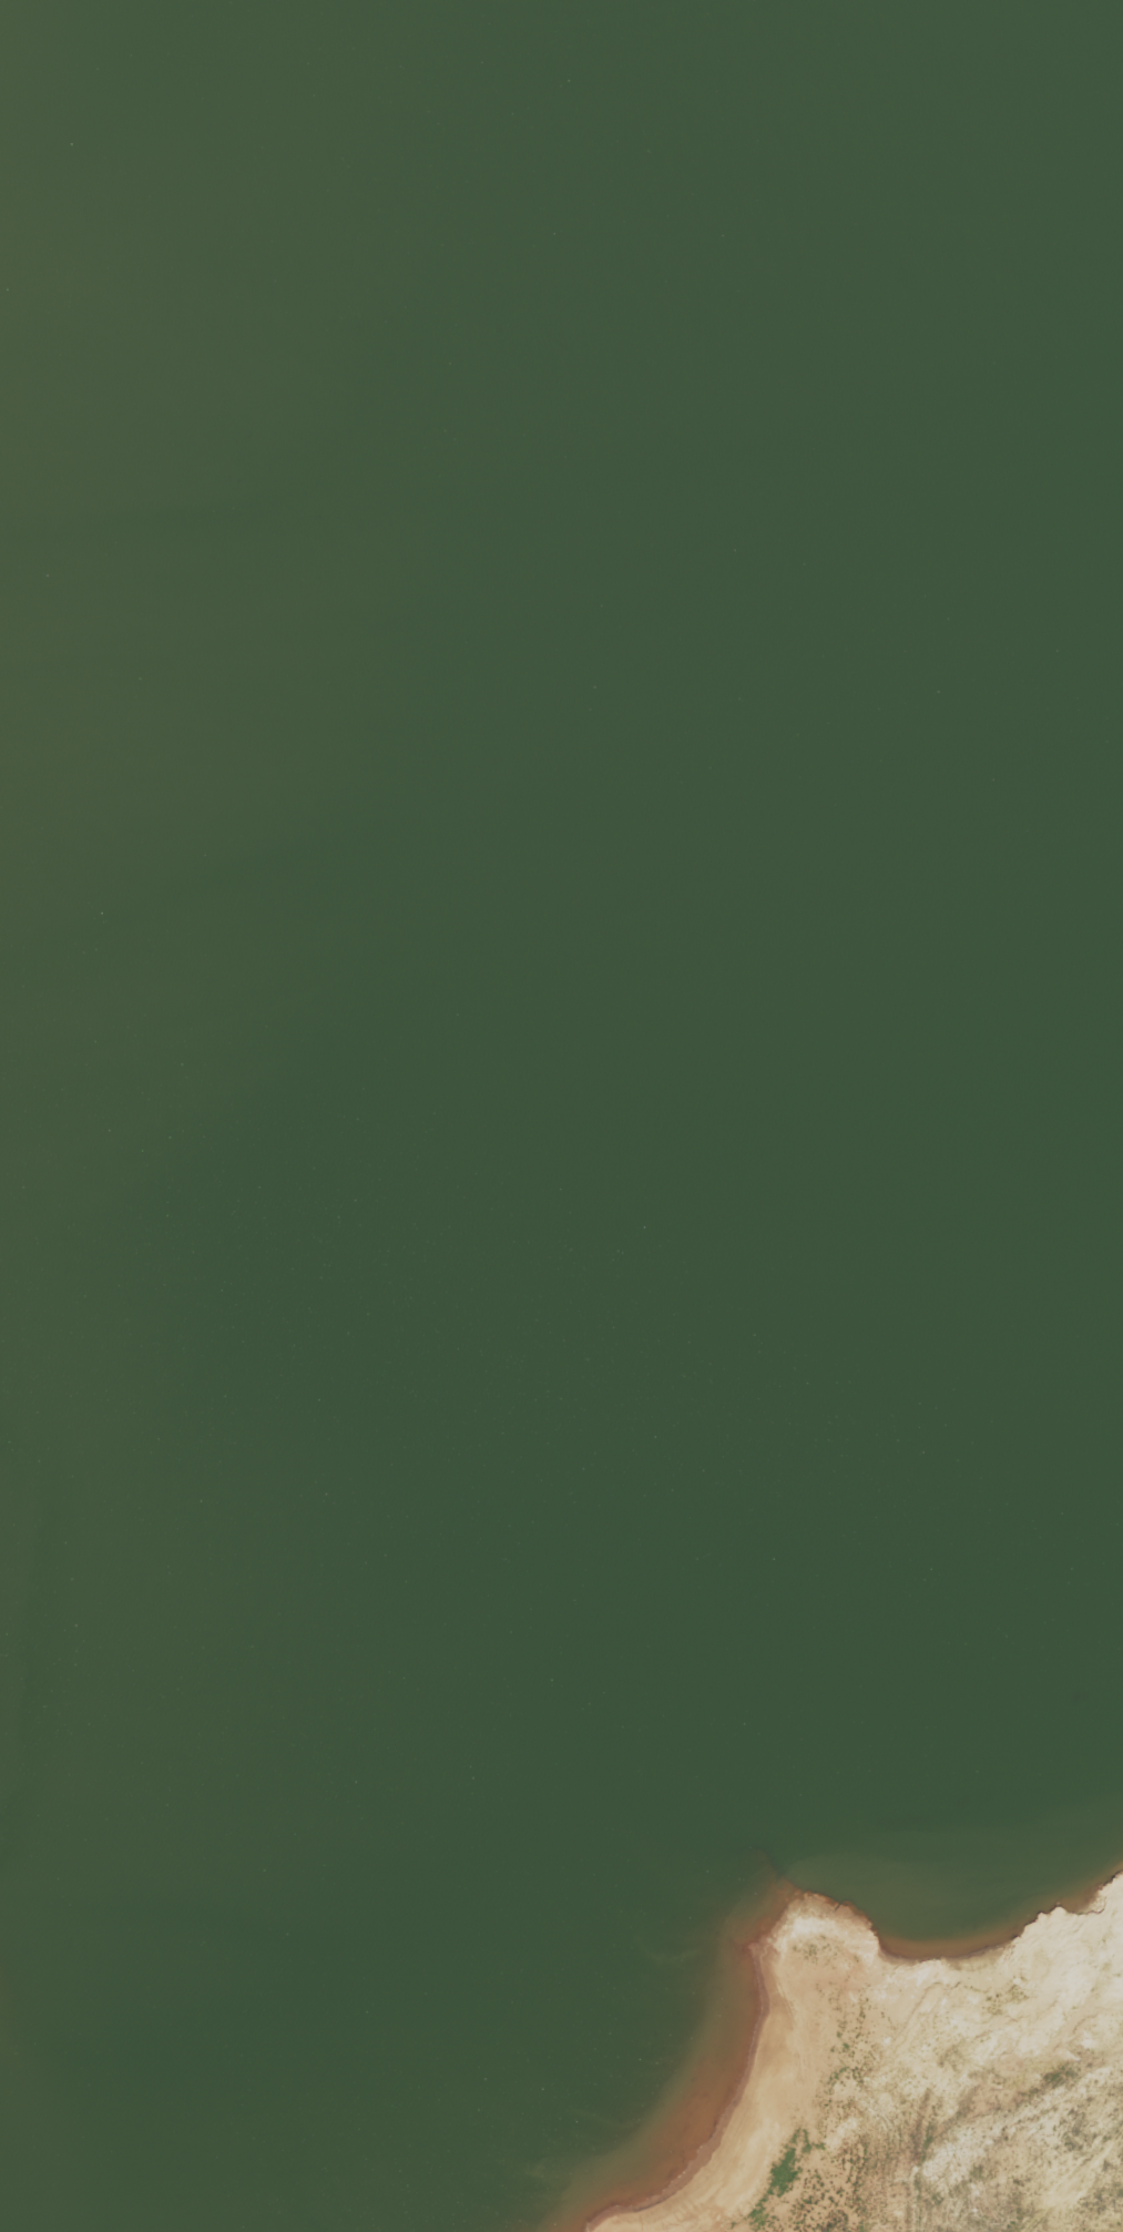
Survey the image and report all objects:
river: (98, 0)

